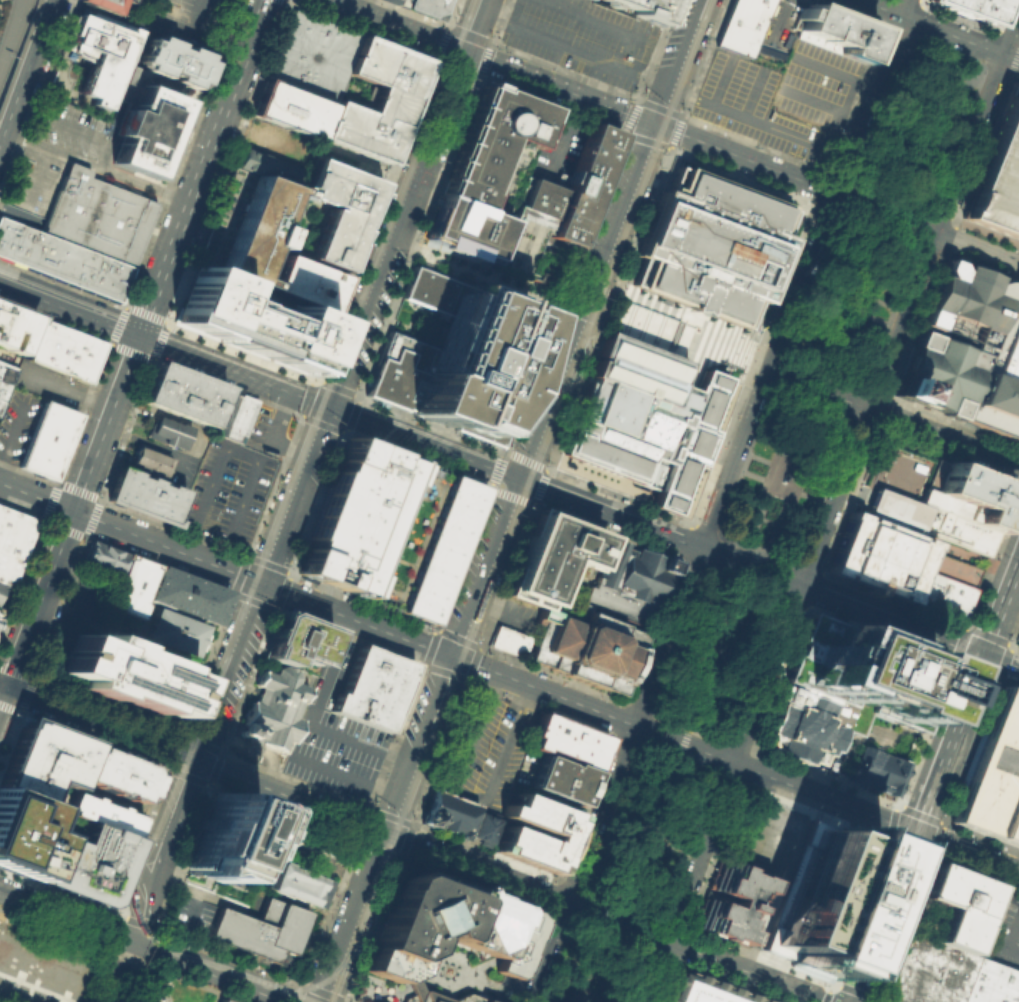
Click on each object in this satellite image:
building: (128, 0)
road: (285, 0)
road: (287, 0)
parking lot: (402, 2)
building: (105, 4)
road: (351, 4)
building: (431, 6)
building: (643, 8)
road: (906, 8)
road: (918, 8)
building: (974, 8)
road: (384, 9)
road: (148, 10)
road: (514, 12)
road: (425, 16)
road: (193, 18)
parking lot: (180, 20)
road: (972, 21)
road: (597, 22)
building: (741, 24)
road: (777, 26)
road: (881, 27)
road: (911, 28)
road: (361, 30)
parking lot: (775, 30)
road: (940, 30)
road: (997, 30)
building: (835, 31)
road: (467, 33)
road: (11, 34)
parking lot: (582, 37)
road: (440, 41)
traffic signals: (462, 51)
road: (945, 51)
road: (1016, 51)
building: (100, 52)
building: (312, 54)
road: (986, 57)
road: (484, 58)
building: (173, 60)
road: (446, 63)
road: (989, 68)
road: (25, 69)
road: (467, 71)
road: (590, 79)
road: (594, 79)
road: (756, 82)
road: (949, 82)
road: (663, 83)
road: (851, 84)
road: (931, 85)
road: (860, 93)
road: (36, 94)
parking lot: (779, 97)
building: (372, 98)
road: (551, 102)
road: (599, 102)
road: (823, 103)
road: (658, 105)
building: (292, 108)
road: (880, 110)
road: (629, 113)
building: (769, 114)
road: (910, 115)
road: (697, 118)
building: (145, 120)
traffic signals: (654, 124)
parking lot: (66, 125)
road: (70, 126)
road: (559, 129)
road: (674, 130)
road: (920, 138)
road: (955, 138)
road: (645, 139)
building: (276, 140)
road: (909, 145)
building: (494, 150)
road: (180, 152)
road: (38, 160)
road: (805, 160)
road: (227, 162)
road: (802, 162)
road: (95, 165)
building: (266, 166)
road: (901, 166)
road: (91, 168)
road: (199, 168)
road: (385, 172)
road: (824, 173)
building: (997, 173)
road: (740, 175)
parking lot: (33, 180)
road: (889, 196)
road: (403, 204)
building: (553, 204)
road: (882, 207)
road: (826, 208)
building: (337, 210)
road: (882, 211)
road: (880, 213)
building: (97, 214)
road: (21, 215)
road: (939, 215)
road: (375, 219)
road: (920, 224)
building: (245, 225)
road: (878, 227)
building: (464, 229)
road: (986, 232)
road: (418, 236)
road: (947, 236)
building: (711, 245)
road: (928, 246)
road: (983, 248)
road: (943, 253)
road: (554, 255)
building: (62, 260)
road: (473, 270)
road: (992, 271)
road: (61, 281)
building: (306, 282)
road: (536, 282)
road: (812, 284)
road: (593, 286)
road: (854, 290)
road: (567, 293)
road: (838, 294)
road: (860, 303)
road: (607, 308)
road: (847, 309)
road: (67, 310)
road: (144, 314)
road: (889, 314)
building: (250, 320)
road: (54, 321)
road: (115, 323)
road: (707, 323)
road: (914, 324)
building: (14, 327)
road: (676, 331)
railway: (334, 334)
traffic signals: (135, 336)
road: (699, 338)
road: (159, 340)
road: (649, 341)
road: (684, 341)
building: (982, 341)
railway: (587, 344)
road: (696, 345)
building: (63, 348)
road: (333, 349)
road: (681, 349)
road: (130, 350)
road: (772, 350)
road: (240, 351)
road: (693, 353)
road: (579, 357)
building: (454, 359)
road: (752, 363)
road: (693, 364)
road: (824, 371)
road: (230, 372)
building: (936, 373)
building: (5, 379)
road: (313, 379)
parking lot: (48, 382)
road: (758, 384)
road: (226, 386)
road: (815, 387)
road: (817, 390)
road: (67, 391)
road: (875, 391)
building: (182, 392)
road: (346, 392)
road: (809, 404)
road: (303, 408)
traffic signals: (326, 409)
road: (880, 411)
road: (81, 412)
building: (233, 414)
road: (351, 414)
building: (643, 417)
road: (953, 420)
road: (322, 423)
road: (862, 423)
parking lot: (15, 424)
road: (431, 424)
road: (125, 429)
building: (167, 431)
road: (11, 432)
railway: (544, 433)
road: (271, 435)
road: (942, 437)
building: (45, 440)
road: (887, 444)
road: (151, 445)
road: (422, 445)
road: (239, 452)
flagpole: (904, 453)
road: (877, 454)
flagpole: (909, 455)
road: (946, 456)
flagpole: (915, 457)
road: (417, 459)
building: (150, 461)
road: (743, 461)
road: (500, 462)
road: (535, 463)
road: (786, 467)
road: (27, 472)
road: (770, 472)
road: (791, 479)
road: (858, 479)
traffic signals: (519, 482)
road: (273, 484)
road: (779, 485)
road: (204, 489)
road: (866, 489)
road: (76, 491)
road: (823, 491)
road: (853, 492)
building: (974, 493)
building: (144, 494)
parking lot: (226, 495)
road: (618, 495)
road: (293, 496)
road: (560, 497)
road: (847, 500)
road: (511, 501)
road: (240, 502)
road: (317, 502)
road: (830, 505)
road: (715, 509)
traffic signals: (69, 511)
road: (68, 512)
building: (354, 516)
building: (903, 525)
road: (173, 527)
road: (703, 528)
road: (649, 531)
road: (687, 533)
road: (130, 534)
park: (761, 534)
railway: (270, 535)
building: (12, 542)
building: (422, 542)
road: (184, 543)
road: (756, 548)
building: (550, 555)
road: (991, 555)
building: (102, 556)
road: (220, 556)
road: (461, 557)
road: (268, 564)
road: (747, 564)
road: (808, 568)
road: (1017, 575)
road: (743, 582)
building: (628, 583)
road: (816, 583)
building: (0, 584)
traffic signals: (260, 584)
building: (131, 585)
road: (234, 593)
building: (187, 594)
building: (941, 595)
road: (892, 599)
road: (362, 600)
road: (499, 607)
road: (859, 610)
road: (1001, 611)
building: (178, 629)
road: (1014, 633)
road: (879, 634)
building: (295, 639)
building: (508, 640)
road: (676, 640)
road: (719, 645)
road: (1014, 647)
building: (586, 648)
road: (703, 649)
traffic signals: (454, 657)
road: (723, 657)
traffic signals: (983, 658)
road: (713, 661)
road: (205, 663)
road: (755, 670)
road: (225, 672)
building: (862, 675)
building: (120, 677)
road: (781, 678)
road: (1008, 684)
road: (1, 688)
building: (371, 688)
traffic signals: (2, 689)
road: (1, 691)
building: (271, 708)
road: (588, 708)
road: (193, 713)
road: (312, 720)
road: (688, 726)
railway: (185, 727)
building: (802, 727)
road: (922, 733)
road: (179, 734)
parking lot: (335, 735)
road: (224, 737)
building: (566, 739)
road: (680, 741)
road: (950, 745)
road: (250, 747)
parking lot: (484, 749)
road: (969, 750)
road: (676, 758)
traffic signals: (192, 761)
building: (42, 763)
building: (832, 763)
road: (270, 765)
building: (876, 770)
building: (119, 773)
building: (993, 774)
road: (345, 775)
road: (824, 776)
building: (561, 779)
road: (466, 795)
road: (811, 812)
road: (918, 812)
building: (102, 813)
building: (448, 813)
road: (609, 816)
road: (889, 821)
road: (651, 823)
road: (637, 826)
building: (483, 828)
building: (555, 829)
building: (25, 832)
traffic signals: (917, 833)
building: (218, 834)
traffic signals: (385, 834)
road: (656, 835)
road: (980, 835)
road: (934, 837)
road: (645, 840)
building: (321, 841)
road: (414, 845)
road: (688, 846)
road: (906, 847)
road: (158, 850)
road: (303, 852)
road: (967, 852)
road: (397, 857)
road: (712, 857)
building: (85, 858)
road: (973, 872)
road: (381, 881)
building: (296, 882)
road: (203, 895)
railway: (378, 895)
building: (819, 895)
building: (728, 900)
road: (620, 904)
building: (955, 904)
road: (191, 908)
road: (566, 912)
road: (858, 912)
railway: (362, 914)
road: (62, 915)
road: (885, 917)
road: (613, 919)
road: (278, 924)
road: (901, 927)
building: (260, 929)
building: (446, 929)
road: (373, 930)
parking lot: (1006, 934)
road: (1011, 934)
road: (608, 936)
traffic signals: (125, 939)
road: (321, 940)
road: (122, 949)
building: (17, 955)
road: (167, 955)
road: (759, 957)
road: (555, 958)
road: (584, 966)
fountain: (445, 970)
road: (605, 970)
building: (927, 972)
building: (59, 973)
road: (638, 976)
road: (112, 981)
railway: (337, 982)
building: (991, 983)
railway: (315, 984)
road: (250, 986)
fountain: (503, 989)
building: (701, 990)
railway: (296, 994)
road: (564, 994)
road: (335, 997)
building: (223, 1000)
road: (874, 1000)
road: (878, 1000)

